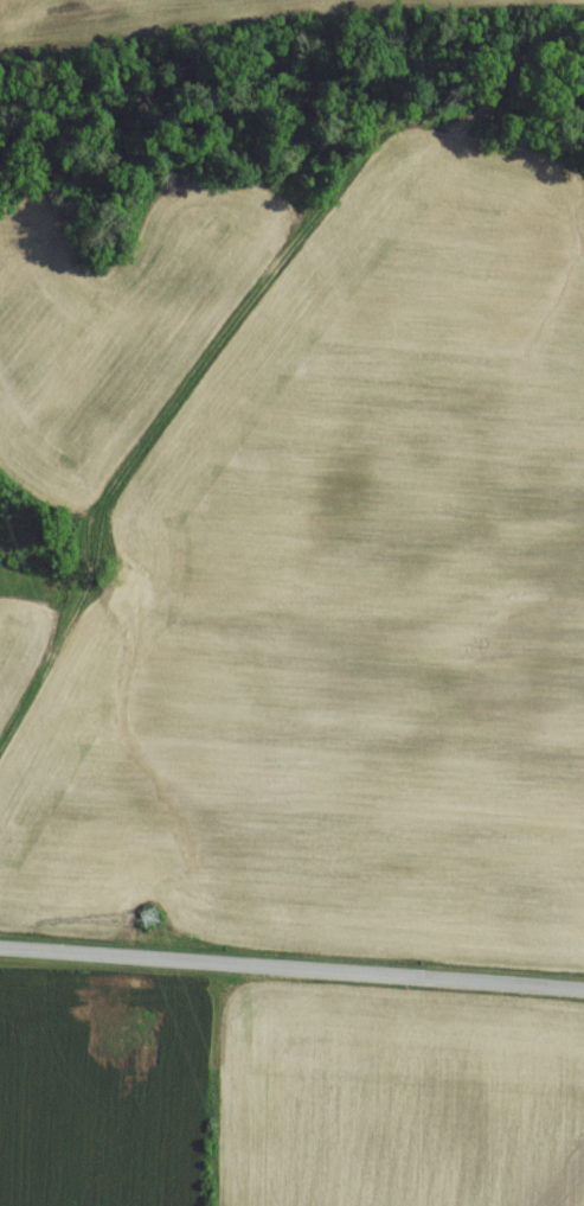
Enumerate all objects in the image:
road: (291, 981)

